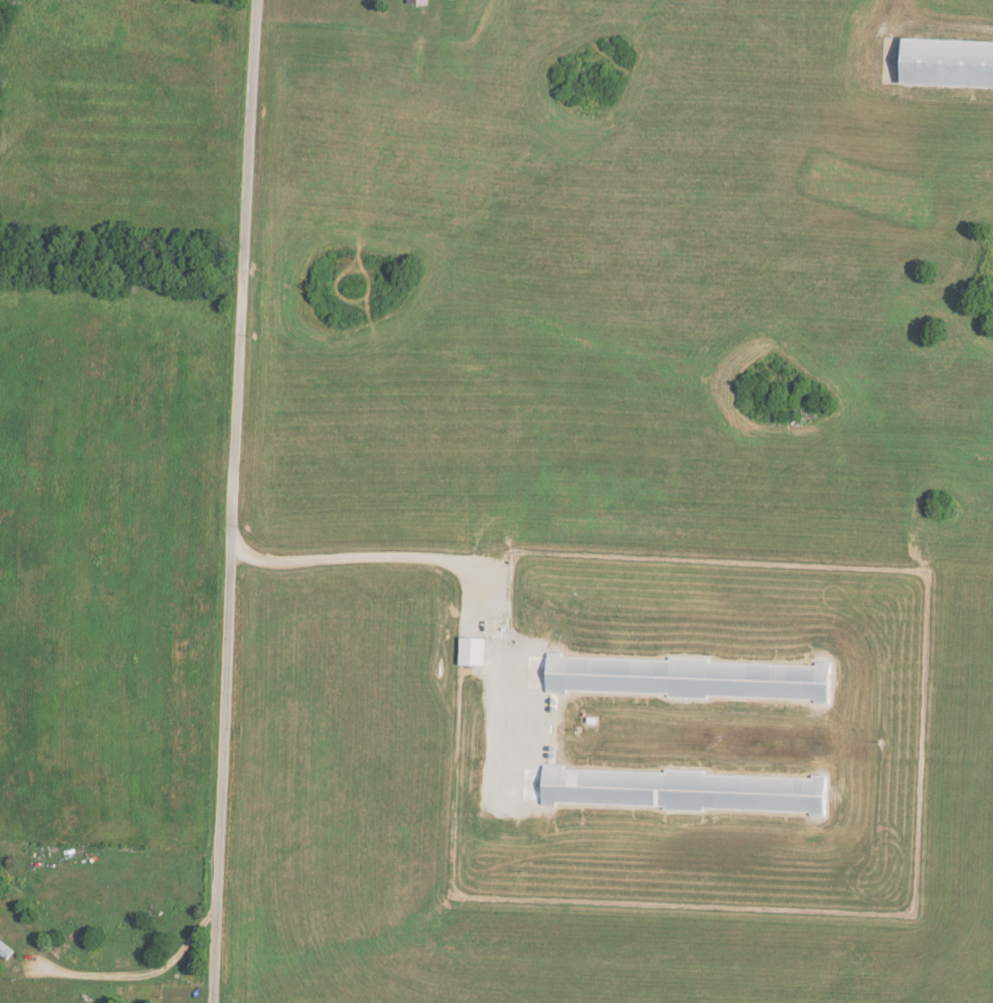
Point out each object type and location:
building: (419, 1)
road: (897, 9)
building: (946, 61)
road: (230, 501)
road: (378, 552)
building: (473, 650)
building: (687, 677)
building: (683, 790)
building: (5, 950)
road: (113, 965)
building: (180, 1002)

